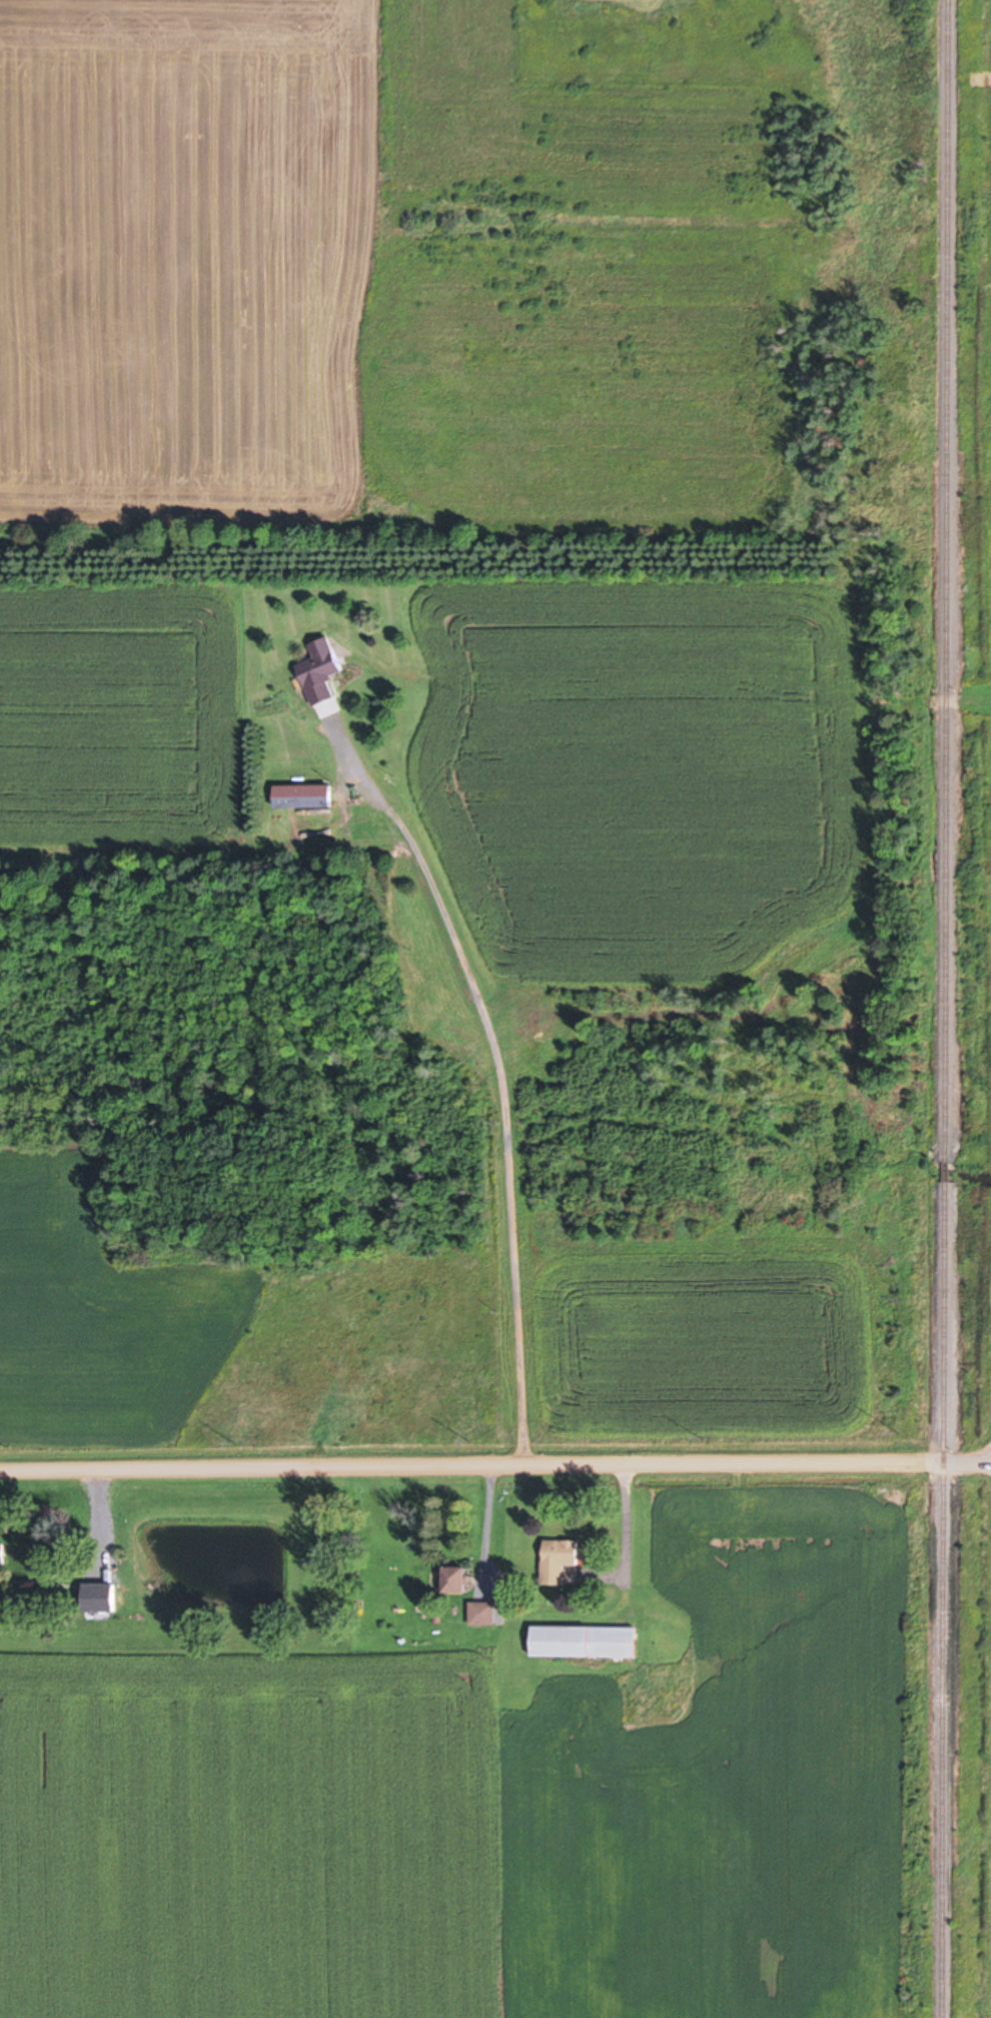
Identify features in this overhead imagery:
railway: (948, 580)
building: (325, 669)
building: (308, 795)
railway: (948, 1170)
road: (495, 1466)
building: (5, 1552)
building: (561, 1559)
building: (460, 1579)
building: (105, 1596)
railway: (945, 1599)
building: (486, 1612)
building: (587, 1641)

